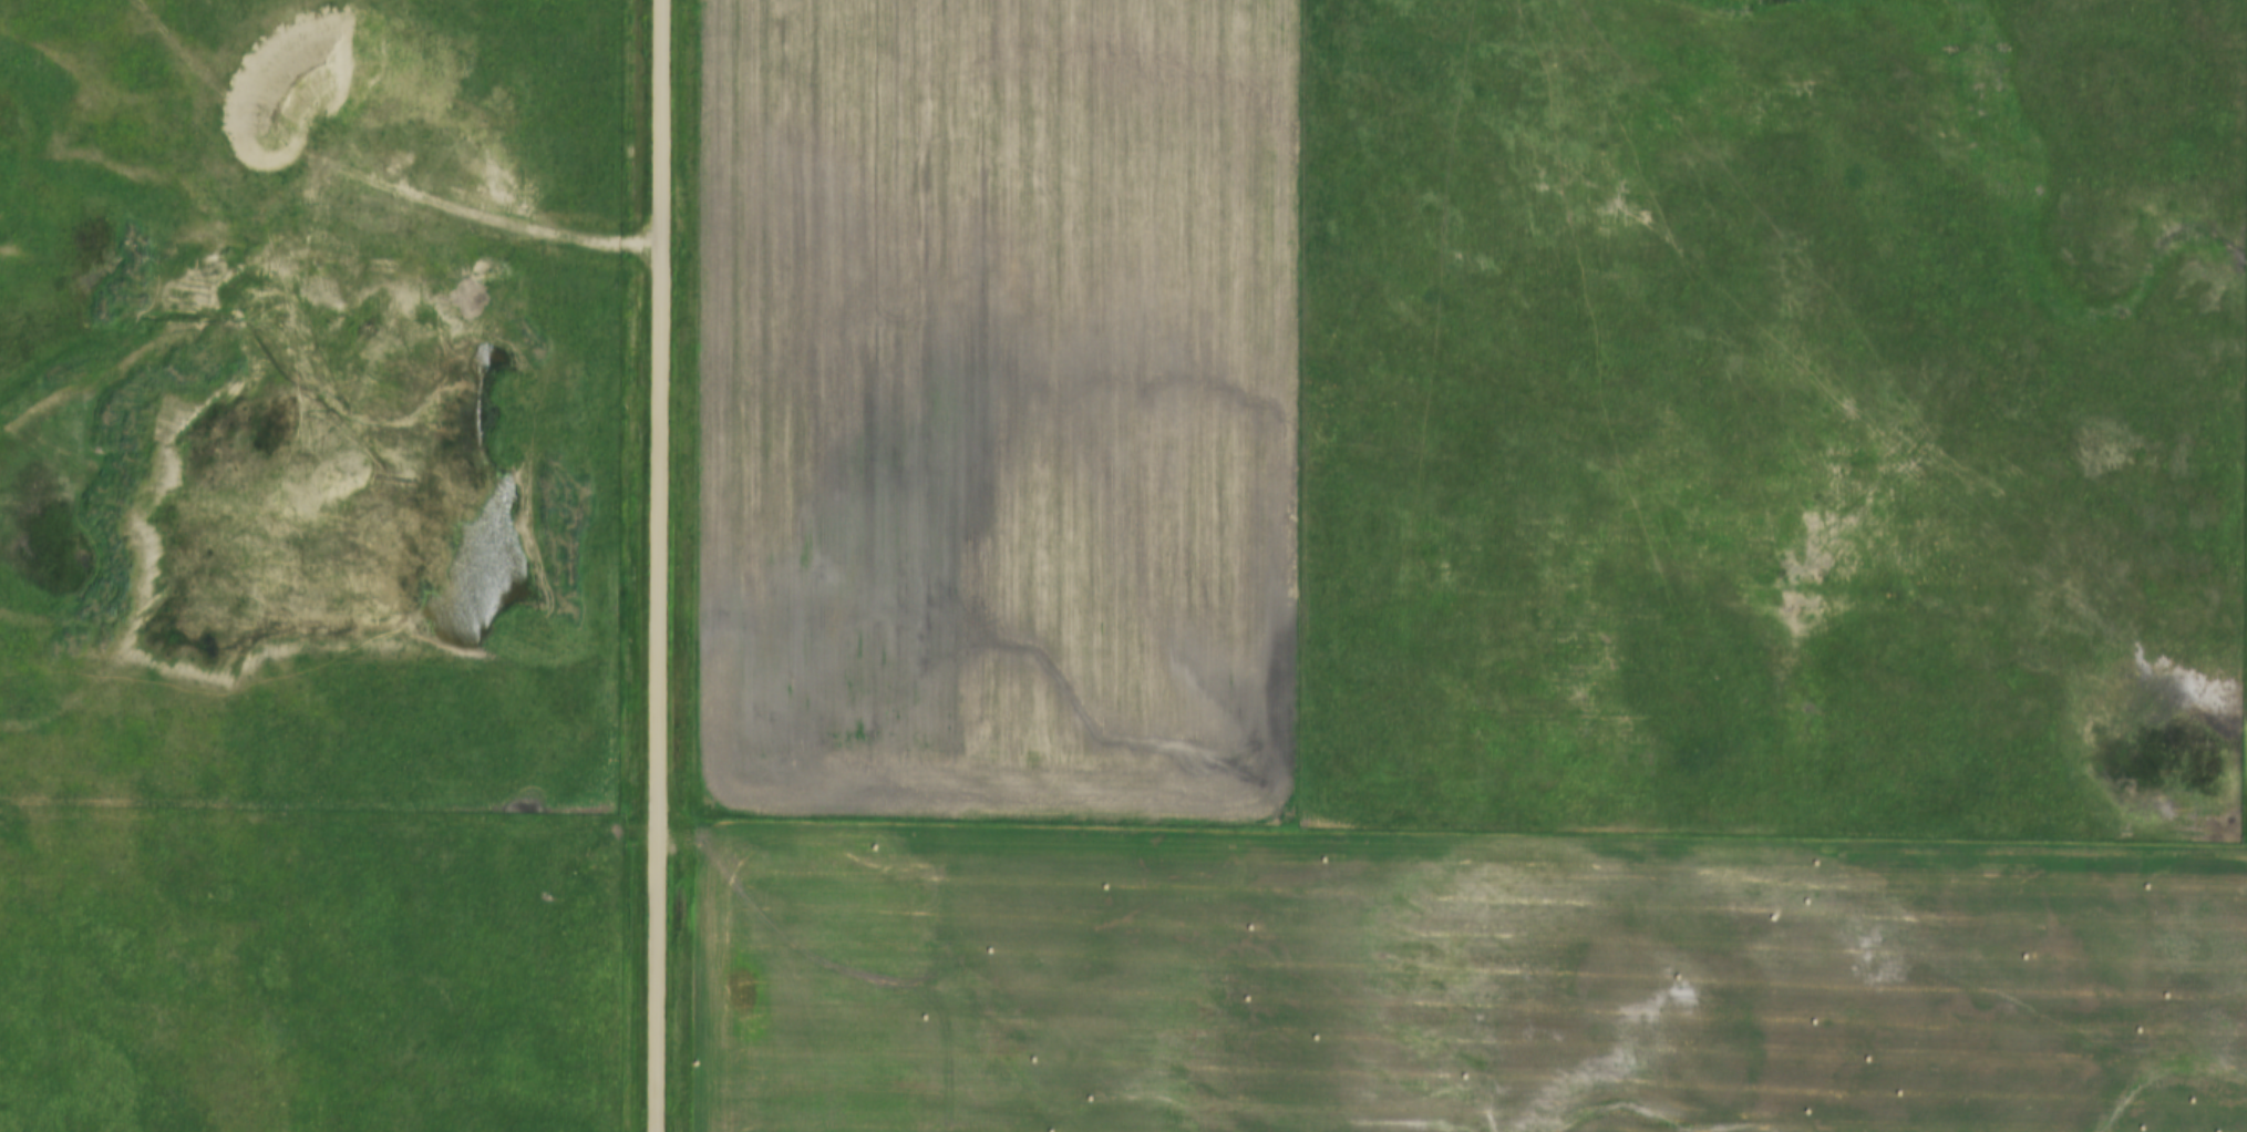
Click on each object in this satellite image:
road: (487, 219)
quarry: (302, 366)
road: (656, 565)

